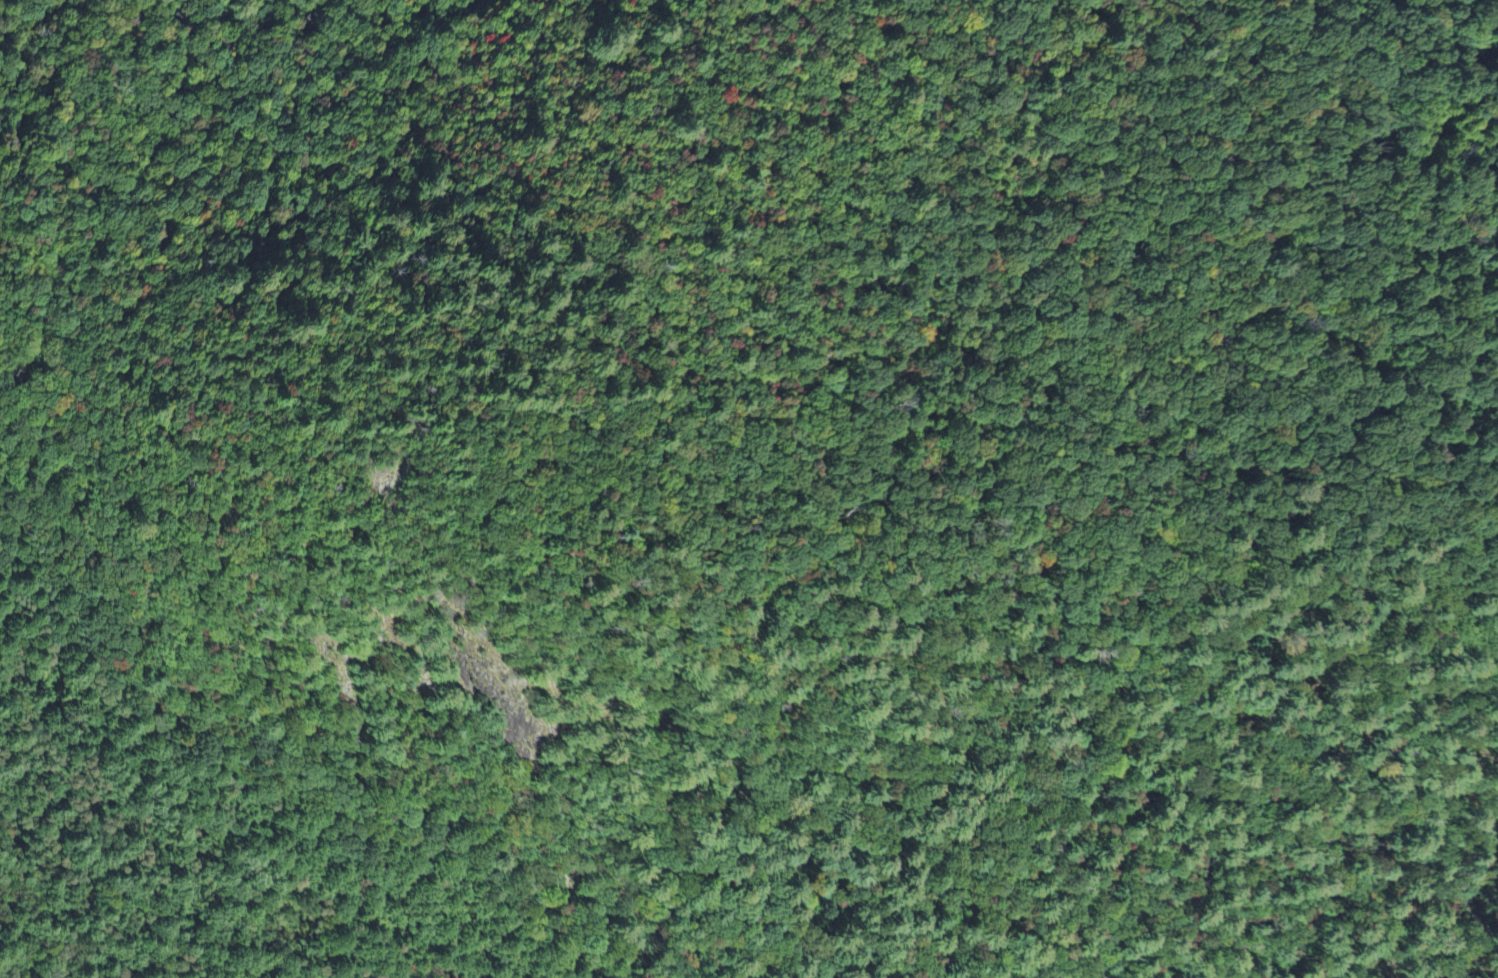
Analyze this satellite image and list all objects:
road: (1486, 11)

